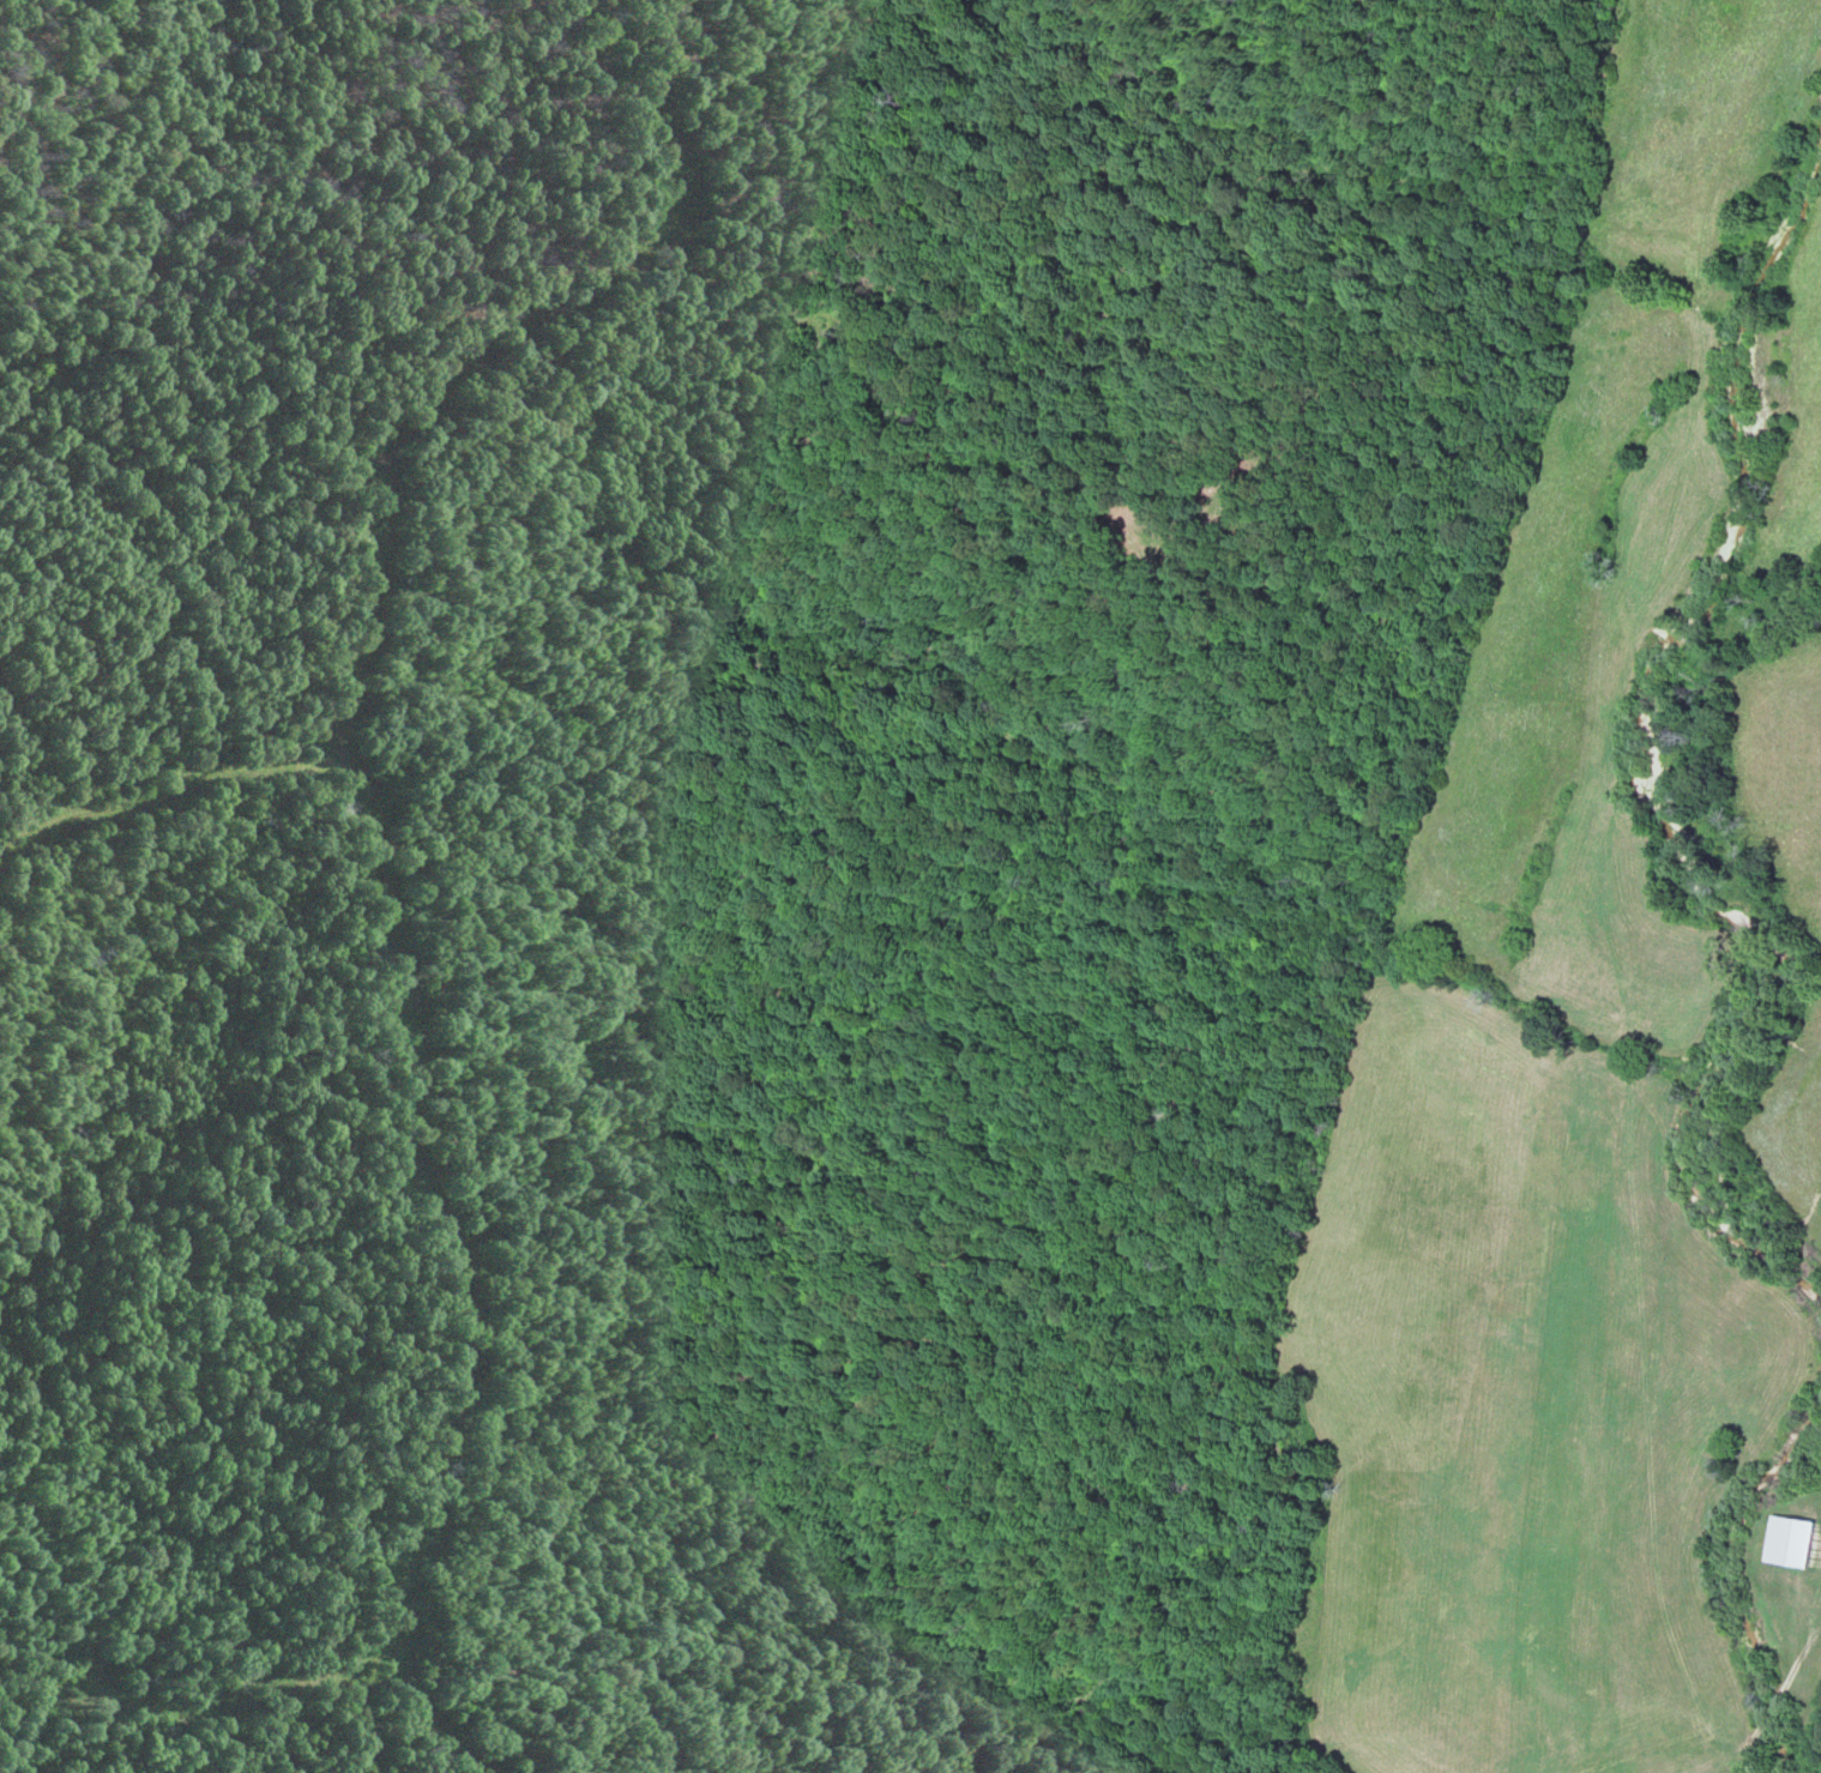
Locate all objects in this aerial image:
road: (1811, 1727)

